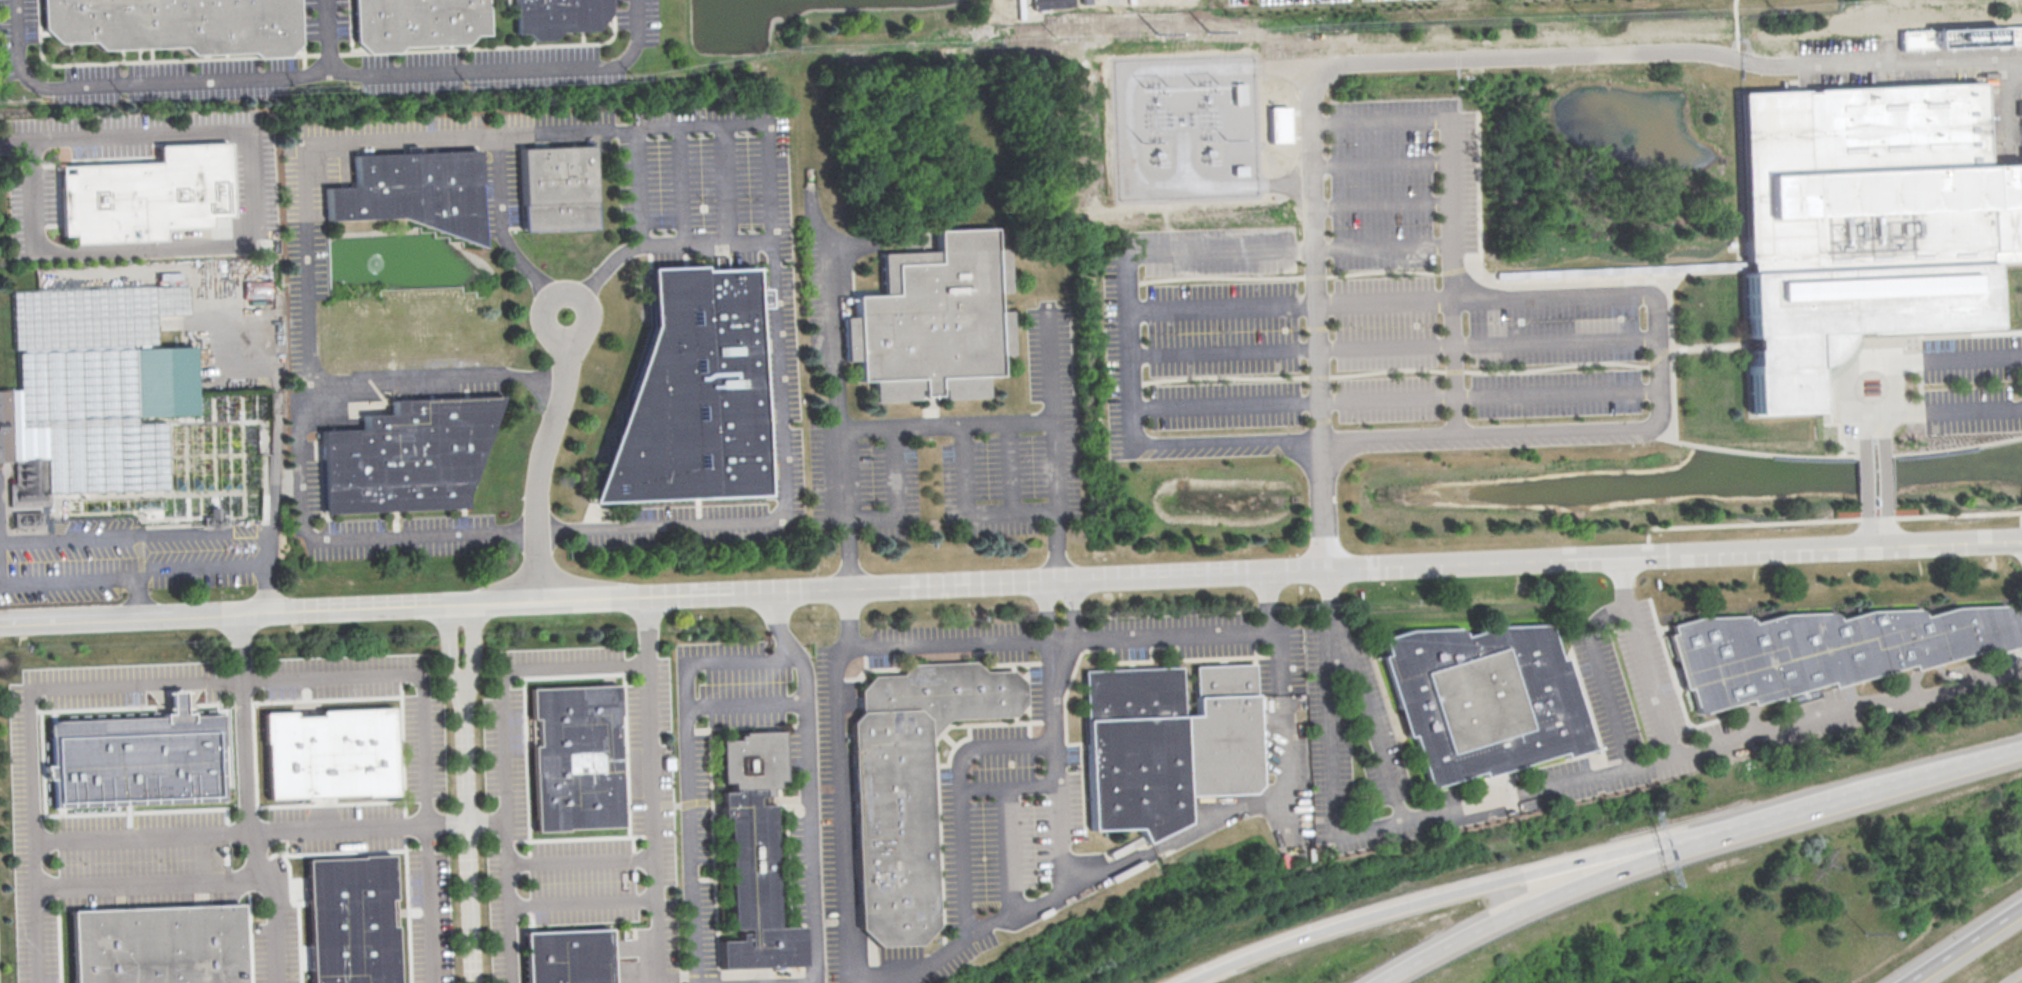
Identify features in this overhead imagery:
parking lot: (1265, 1)
building: (1051, 4)
building: (556, 17)
building: (415, 24)
building: (174, 25)
road: (1736, 28)
building: (1961, 37)
road: (326, 38)
parking lot: (1849, 46)
parking lot: (326, 58)
road: (1881, 62)
road: (315, 76)
parking lot: (1876, 76)
road: (1311, 108)
road: (1299, 111)
road: (1452, 111)
parking lot: (1994, 117)
building: (1278, 124)
power substation: (1185, 126)
road: (1300, 136)
road: (16, 141)
road: (346, 142)
road: (1380, 162)
road: (729, 181)
road: (682, 183)
road: (1227, 183)
building: (556, 190)
building: (413, 194)
building: (142, 197)
road: (1381, 202)
road: (1449, 206)
road: (501, 219)
building: (219, 221)
building: (1864, 223)
road: (258, 232)
road: (642, 239)
road: (1262, 249)
road: (1304, 276)
road: (1493, 280)
road: (1662, 283)
building: (256, 289)
road: (1487, 290)
building: (762, 297)
road: (554, 301)
road: (1392, 304)
parking lot: (1368, 317)
building: (934, 322)
road: (1128, 334)
road: (1708, 345)
road: (1394, 349)
road: (1877, 354)
road: (1958, 360)
road: (1404, 369)
road: (434, 375)
parking lot: (1972, 383)
road: (828, 387)
building: (87, 393)
building: (686, 397)
road: (1396, 401)
road: (1959, 411)
road: (942, 424)
road: (1662, 432)
road: (1416, 434)
road: (1873, 437)
road: (1055, 442)
road: (1698, 445)
road: (274, 447)
building: (404, 458)
road: (547, 458)
road: (1008, 469)
road: (1875, 484)
road: (784, 497)
road: (900, 501)
road: (964, 517)
road: (1835, 519)
road: (1877, 527)
road: (135, 536)
parking lot: (122, 558)
road: (135, 575)
road: (1010, 581)
road: (136, 597)
road: (776, 626)
road: (647, 629)
road: (1073, 629)
road: (1172, 634)
road: (949, 643)
building: (1823, 650)
road: (1597, 655)
road: (404, 670)
road: (1648, 677)
road: (1283, 698)
building: (1482, 701)
road: (745, 705)
road: (1373, 724)
road: (28, 730)
road: (1055, 735)
building: (1165, 744)
road: (506, 754)
building: (325, 756)
building: (573, 759)
building: (131, 763)
road: (688, 764)
road: (840, 782)
road: (1008, 783)
road: (1548, 786)
building: (907, 787)
road: (1868, 789)
road: (465, 794)
road: (960, 795)
road: (247, 800)
road: (809, 818)
road: (468, 820)
road: (653, 823)
road: (229, 829)
road: (1009, 849)
building: (750, 856)
road: (582, 859)
road: (151, 880)
road: (1086, 880)
road: (1444, 894)
road: (1538, 899)
road: (430, 903)
road: (583, 903)
building: (347, 921)
road: (1962, 944)
building: (154, 946)
building: (564, 957)
road: (2019, 981)

